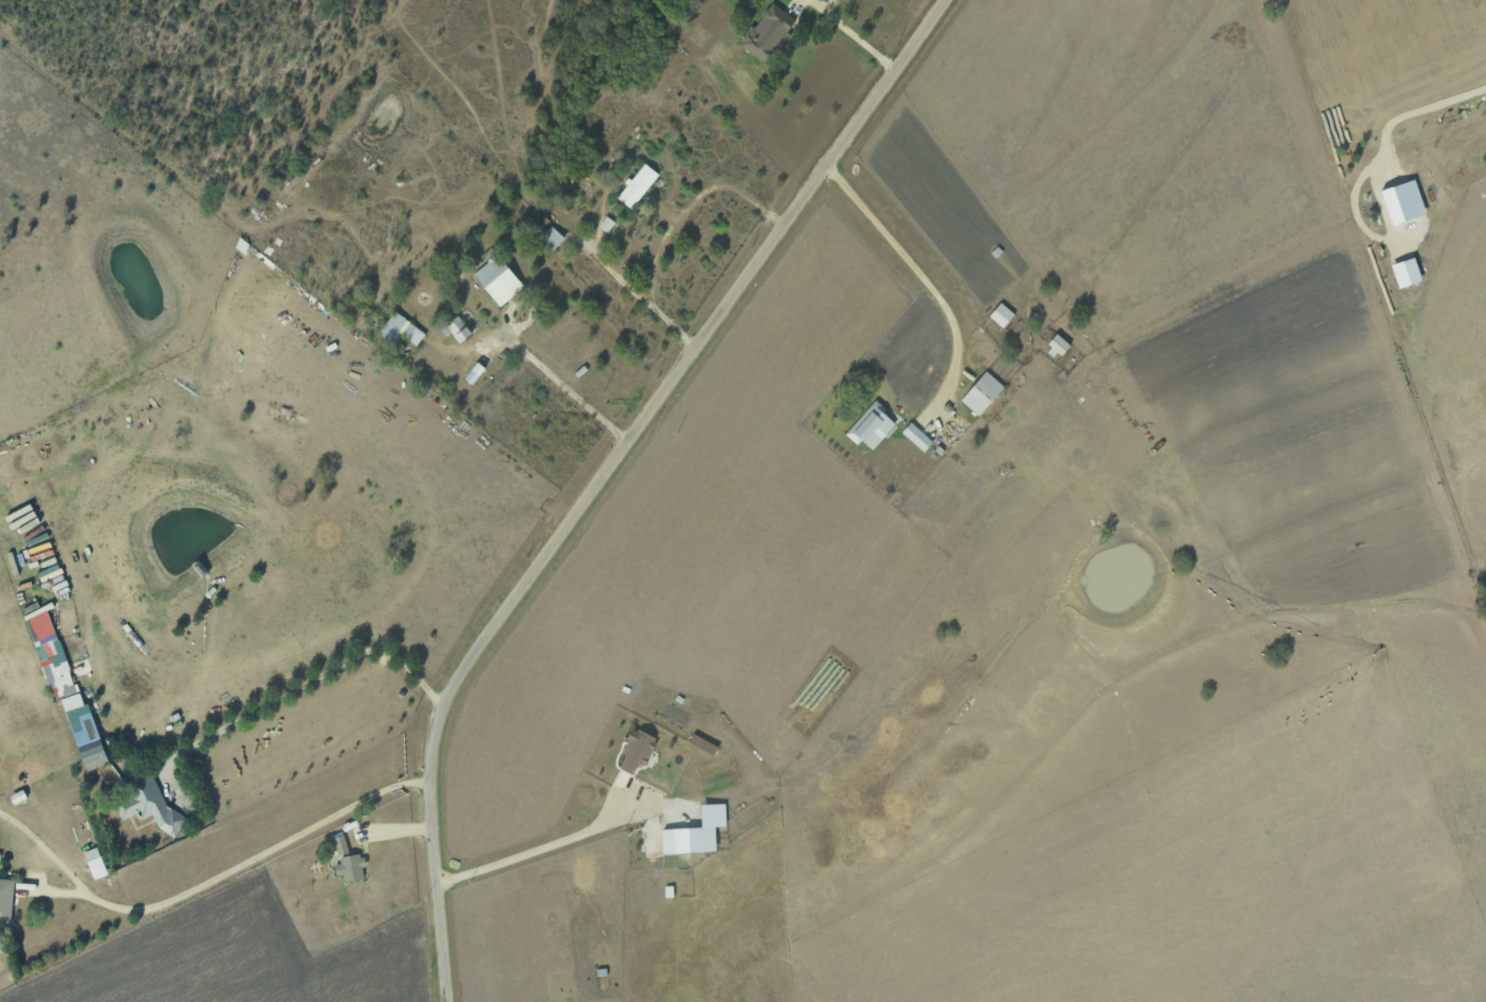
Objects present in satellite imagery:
building: (768, 33)
road: (850, 46)
building: (638, 185)
building: (1404, 202)
building: (607, 224)
building: (552, 238)
building: (1406, 273)
building: (498, 281)
road: (925, 281)
road: (640, 297)
building: (1002, 315)
building: (401, 330)
building: (458, 330)
building: (1059, 345)
building: (475, 373)
road: (572, 386)
building: (982, 393)
building: (871, 427)
building: (917, 437)
road: (607, 473)
road: (310, 680)
building: (67, 690)
building: (637, 750)
building: (151, 806)
building: (689, 840)
building: (341, 845)
road: (47, 851)
road: (260, 856)
road: (540, 859)
building: (351, 867)
building: (97, 868)
building: (6, 900)

